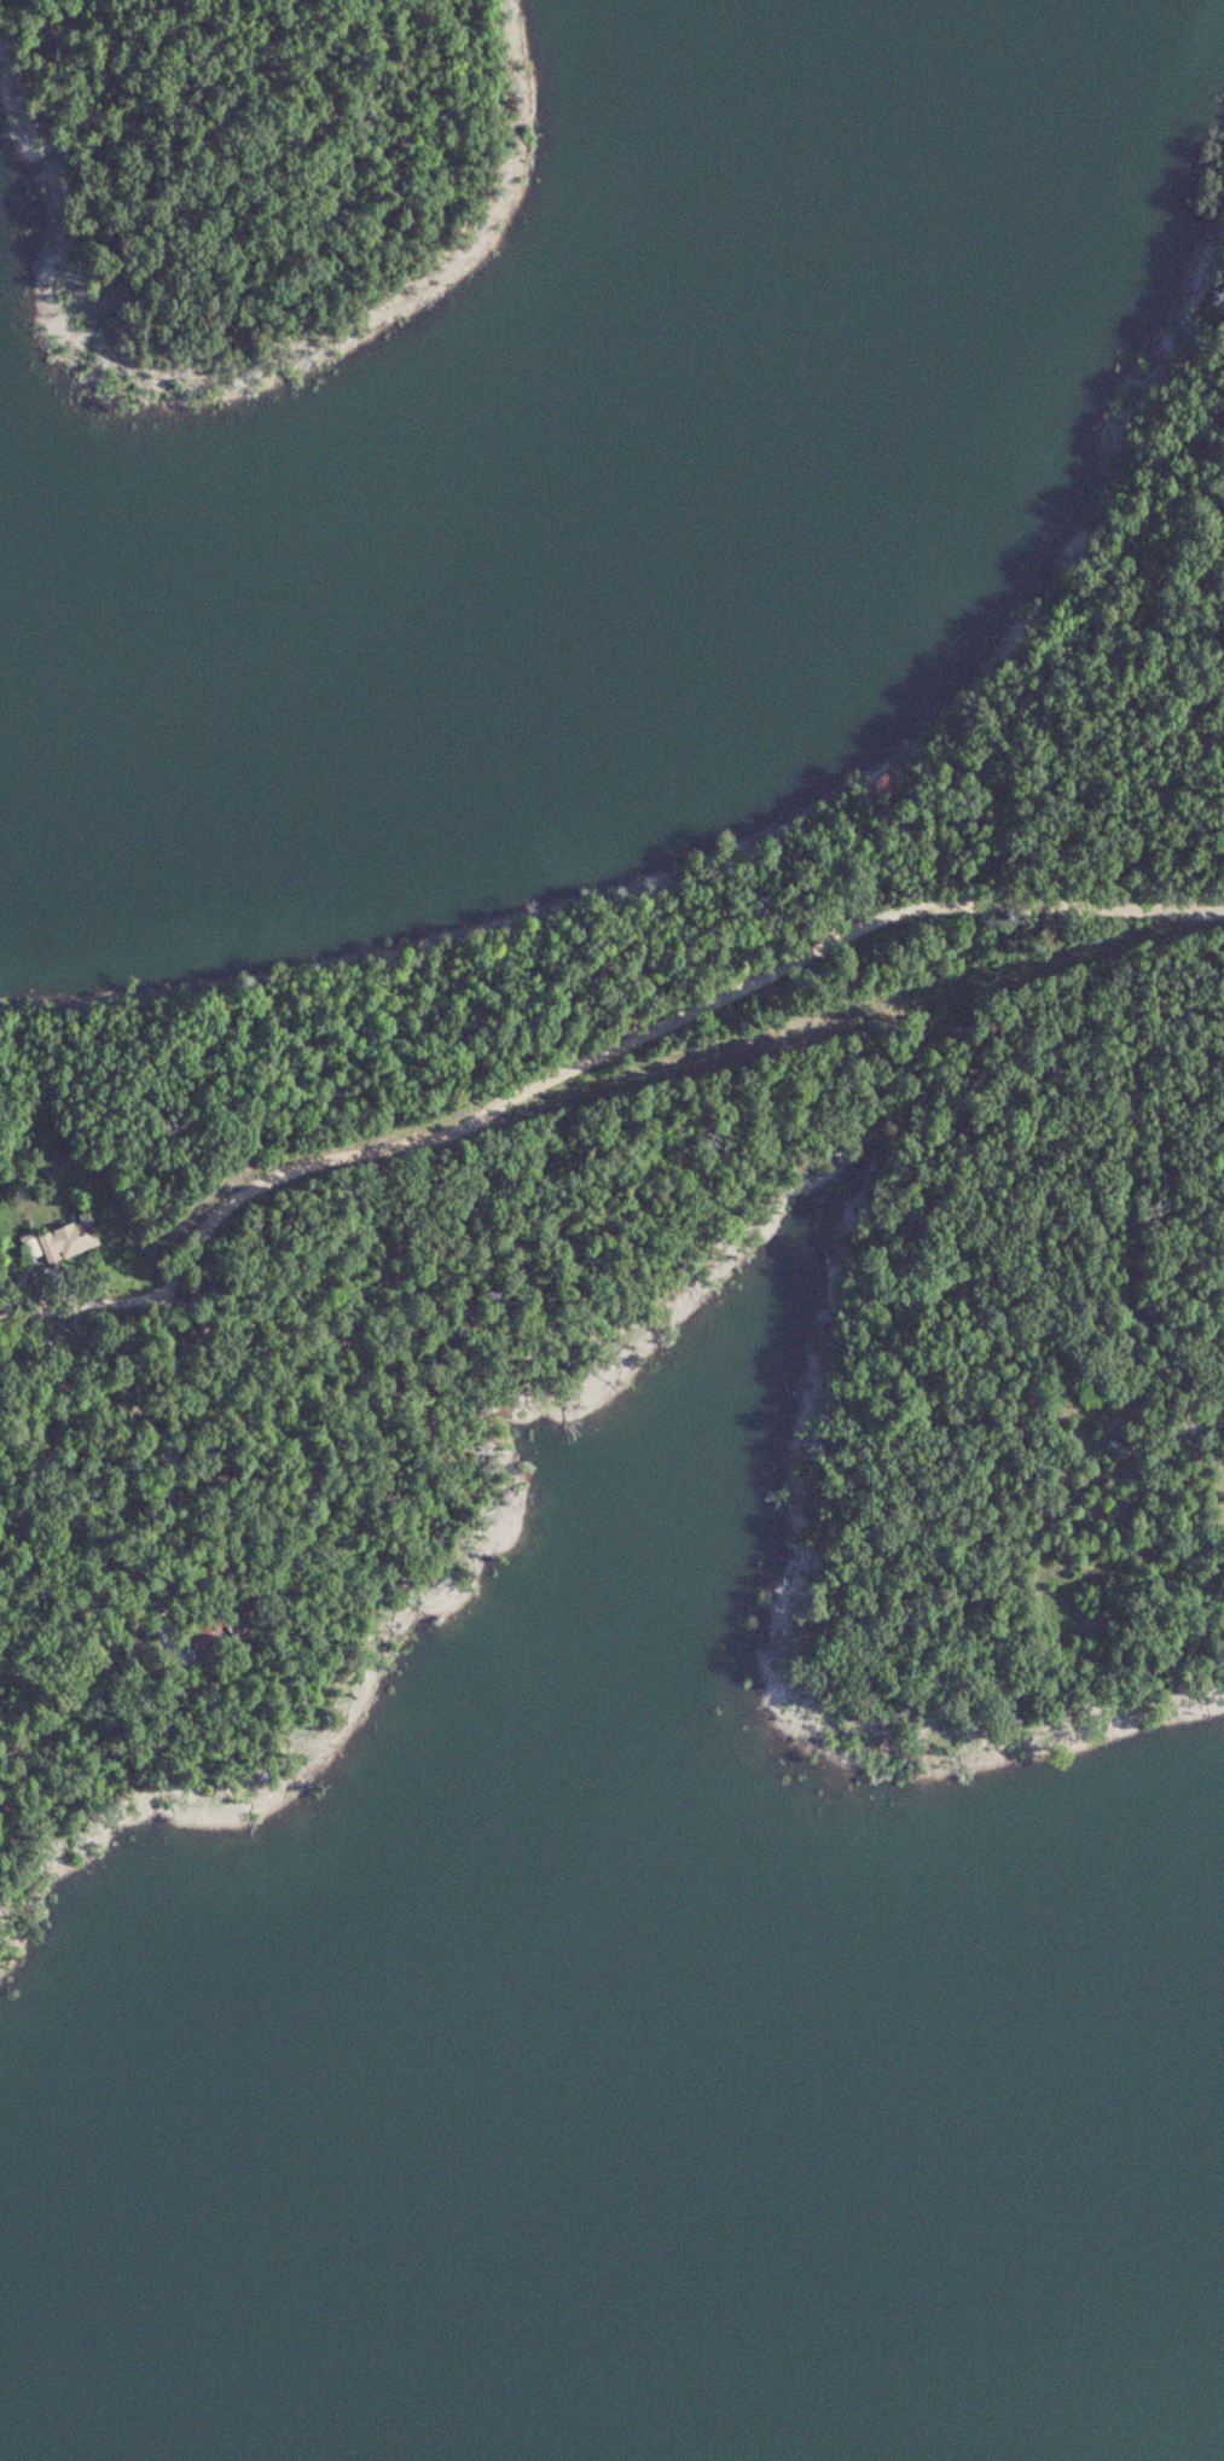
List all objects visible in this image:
road: (591, 1056)
building: (68, 1238)

